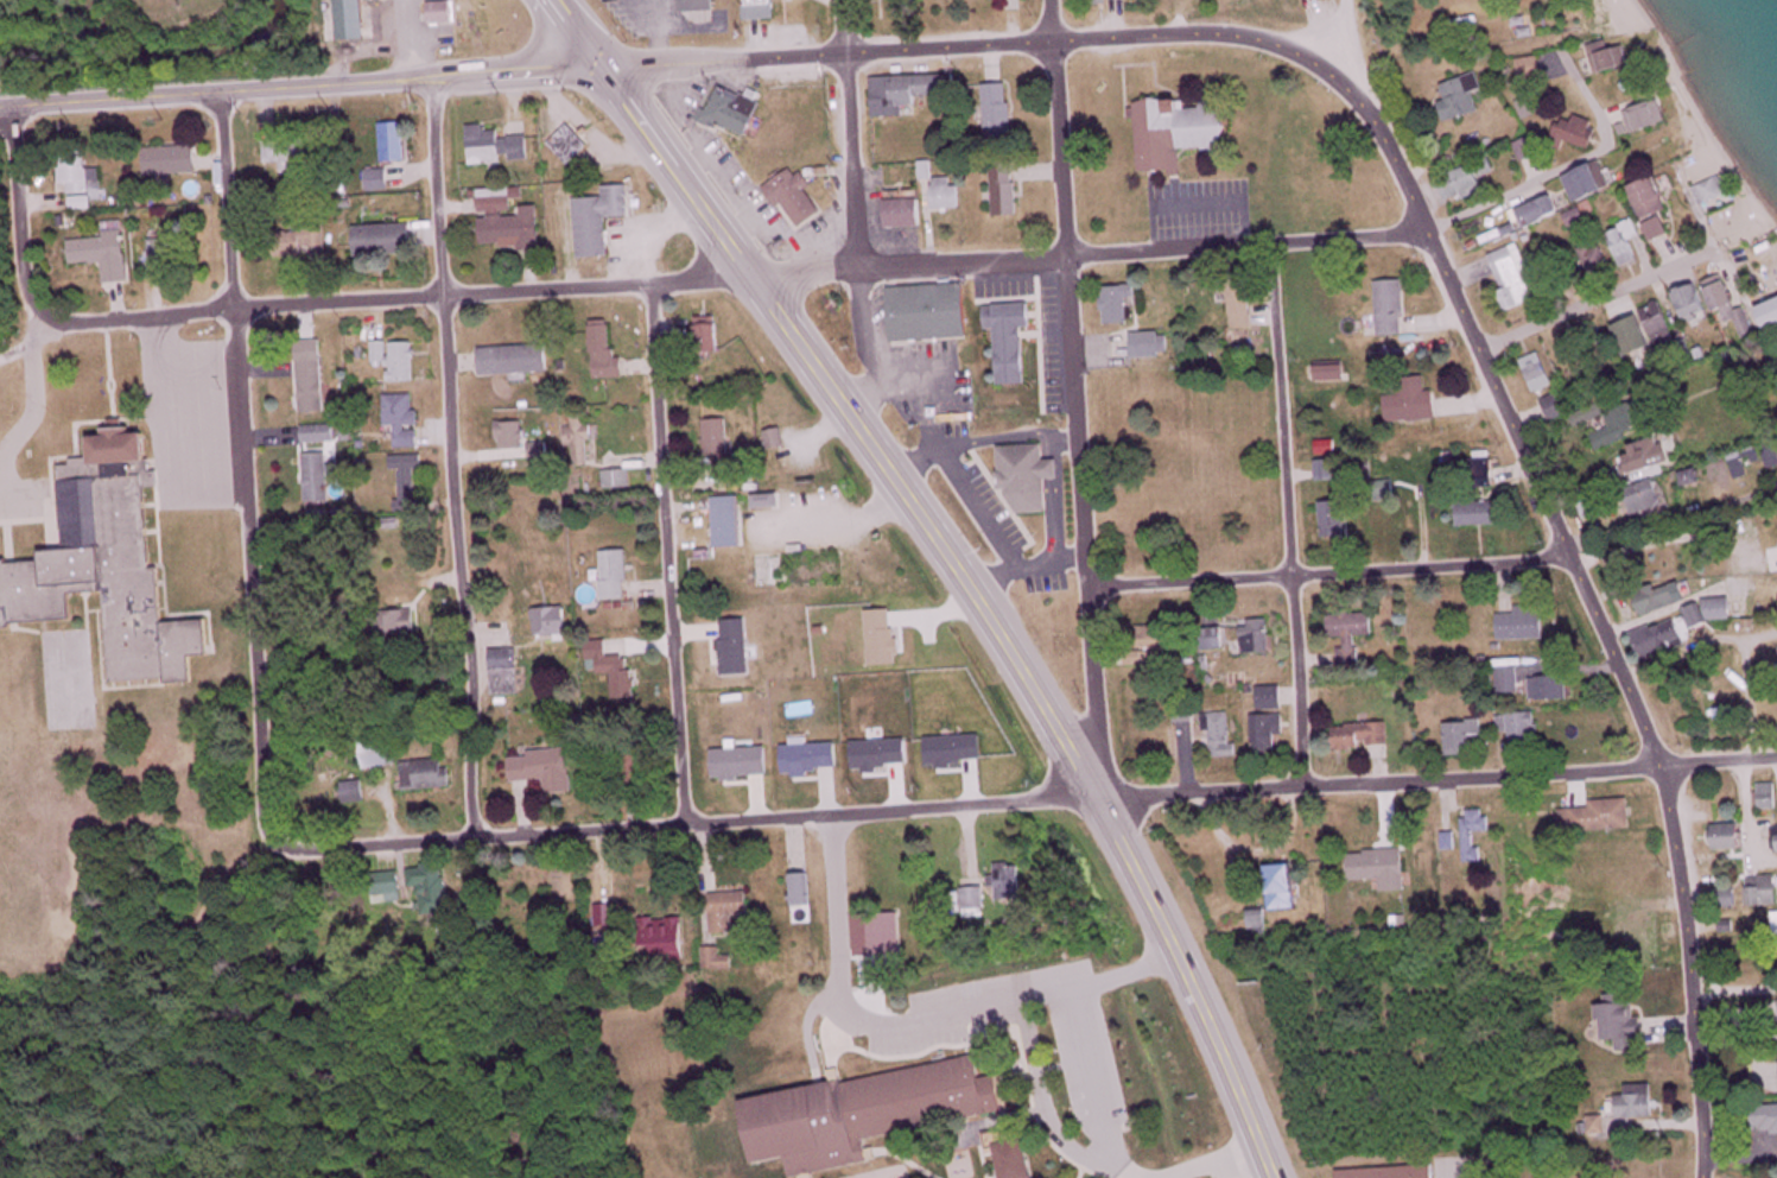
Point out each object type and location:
building: (1105, 0)
building: (699, 6)
building: (762, 11)
building: (443, 13)
building: (354, 20)
road: (580, 34)
road: (1341, 36)
road: (408, 38)
road: (970, 45)
building: (1614, 58)
building: (1536, 70)
road: (303, 87)
building: (913, 94)
building: (1466, 99)
road: (1594, 100)
building: (1536, 108)
building: (734, 113)
building: (1002, 114)
building: (1651, 115)
building: (1584, 131)
building: (1179, 133)
road: (851, 135)
building: (395, 142)
building: (571, 145)
building: (1536, 145)
building: (497, 146)
building: (287, 153)
building: (173, 160)
building: (76, 171)
building: (1480, 176)
building: (379, 180)
building: (1595, 180)
road: (1524, 189)
building: (1008, 190)
building: (1715, 191)
building: (947, 195)
building: (794, 198)
building: (496, 202)
building: (1658, 205)
building: (1547, 209)
building: (907, 211)
building: (1581, 216)
road: (23, 221)
building: (601, 221)
building: (514, 232)
road: (660, 234)
building: (305, 241)
building: (387, 241)
building: (1630, 242)
building: (170, 252)
building: (107, 253)
building: (1598, 259)
building: (1517, 277)
road: (745, 279)
road: (1603, 299)
building: (1697, 300)
building: (1119, 303)
building: (1732, 303)
building: (1395, 308)
building: (1772, 313)
building: (1664, 323)
building: (710, 335)
building: (1640, 335)
road: (32, 340)
building: (1150, 343)
road: (874, 351)
building: (607, 353)
building: (398, 359)
building: (516, 360)
building: (1334, 372)
building: (1542, 372)
building: (313, 386)
road: (1081, 398)
building: (1414, 401)
building: (405, 418)
building: (1632, 418)
building: (319, 432)
building: (513, 435)
building: (582, 437)
building: (778, 438)
road: (986, 441)
building: (1327, 448)
building: (541, 449)
road: (944, 452)
building: (1654, 452)
road: (456, 456)
building: (723, 457)
road: (243, 470)
building: (1327, 470)
building: (1032, 475)
building: (318, 477)
building: (618, 477)
building: (411, 481)
building: (1649, 496)
building: (770, 500)
road: (1058, 500)
building: (1481, 512)
building: (1337, 513)
road: (1290, 515)
building: (730, 521)
road: (671, 553)
road: (1029, 564)
building: (109, 565)
building: (617, 574)
road: (1332, 574)
building: (1671, 596)
road: (1592, 600)
road: (979, 601)
building: (1699, 616)
building: (402, 621)
building: (554, 621)
building: (1524, 623)
building: (1258, 635)
building: (1353, 635)
building: (1664, 638)
building: (599, 650)
road: (1701, 651)
building: (626, 678)
building: (1551, 688)
building: (1273, 698)
building: (1186, 710)
building: (1529, 729)
building: (1270, 734)
building: (1364, 736)
building: (1462, 736)
building: (1224, 737)
building: (385, 754)
building: (548, 769)
building: (640, 769)
building: (427, 774)
building: (1768, 796)
road: (1027, 802)
building: (1600, 816)
building: (1475, 831)
building: (1733, 836)
building: (1381, 868)
building: (1009, 881)
building: (388, 887)
building: (1283, 887)
building: (1763, 891)
building: (433, 892)
building: (975, 897)
building: (729, 910)
building: (795, 911)
building: (1261, 918)
building: (1646, 935)
building: (666, 939)
building: (890, 940)
building: (910, 944)
building: (718, 959)
building: (1624, 1020)
park: (235, 1087)
building: (1640, 1102)
building: (865, 1115)
building: (1768, 1120)
building: (1017, 1154)
building: (1394, 1172)

